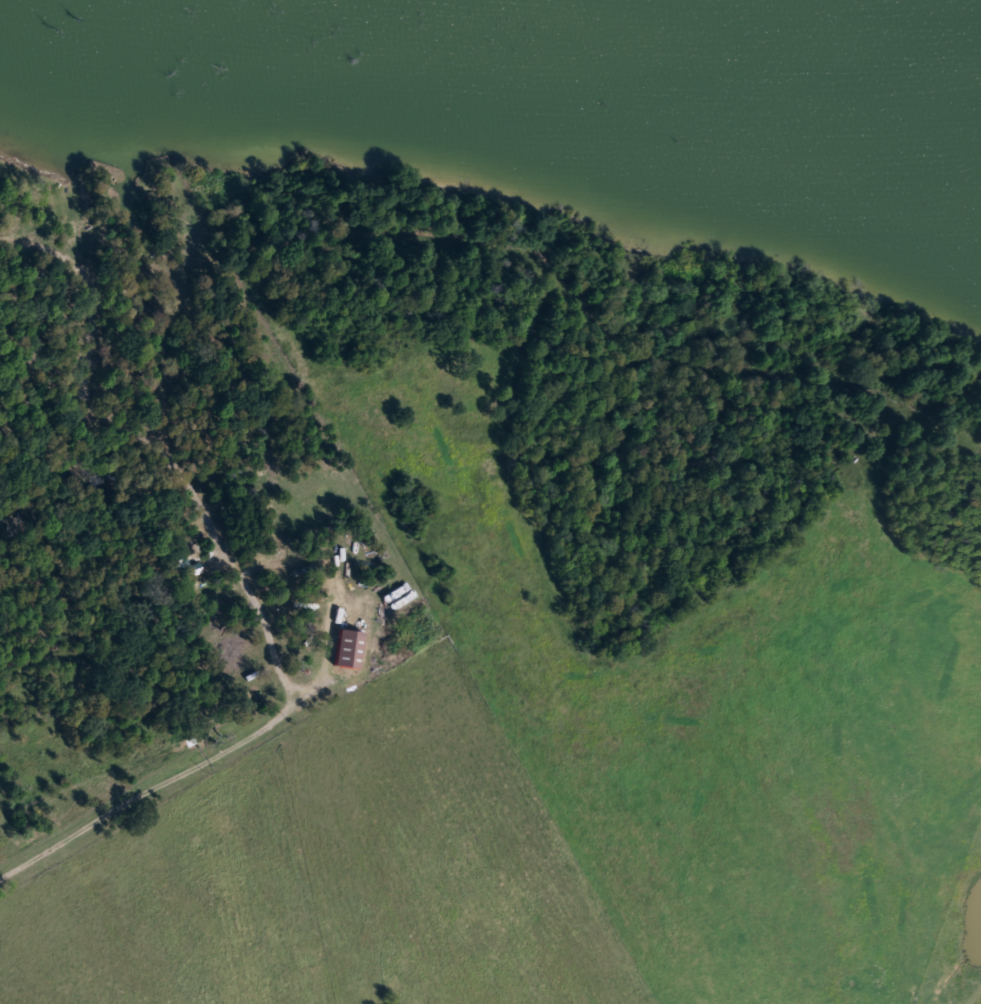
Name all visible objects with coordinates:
road: (943, 733)
road: (914, 891)

